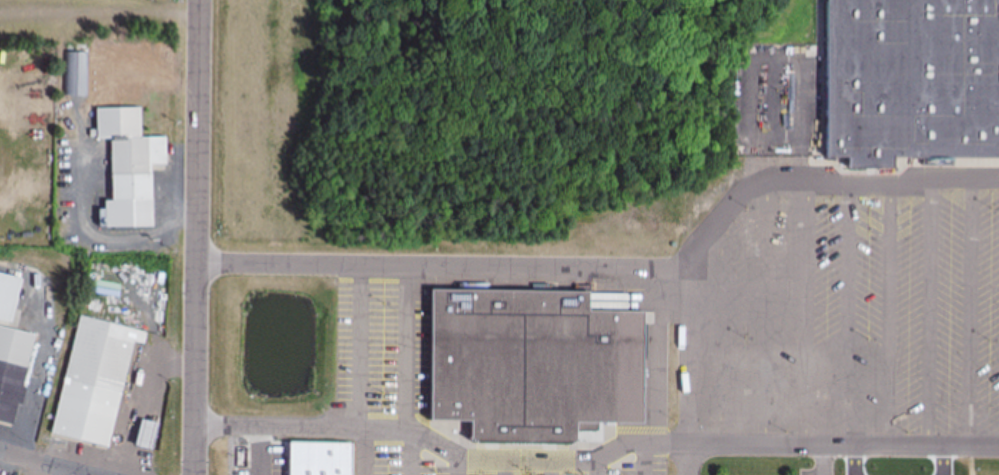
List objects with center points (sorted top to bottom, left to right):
building: (77, 74)
building: (951, 79)
building: (862, 82)
building: (126, 167)
road: (739, 199)
road: (198, 237)
road: (443, 266)
road: (972, 315)
road: (769, 316)
road: (809, 316)
road: (932, 316)
road: (849, 317)
road: (891, 317)
parking lot: (855, 319)
road: (724, 332)
road: (360, 347)
road: (407, 349)
parking lot: (378, 351)
building: (13, 356)
building: (501, 366)
building: (607, 369)
building: (94, 382)
road: (142, 403)
building: (143, 436)
road: (829, 450)
road: (443, 451)
road: (367, 452)
road: (412, 454)
parking lot: (398, 457)
road: (645, 460)
road: (825, 462)
road: (43, 463)
road: (459, 467)
road: (505, 467)
road: (552, 468)
road: (598, 468)
parking lot: (808, 472)

